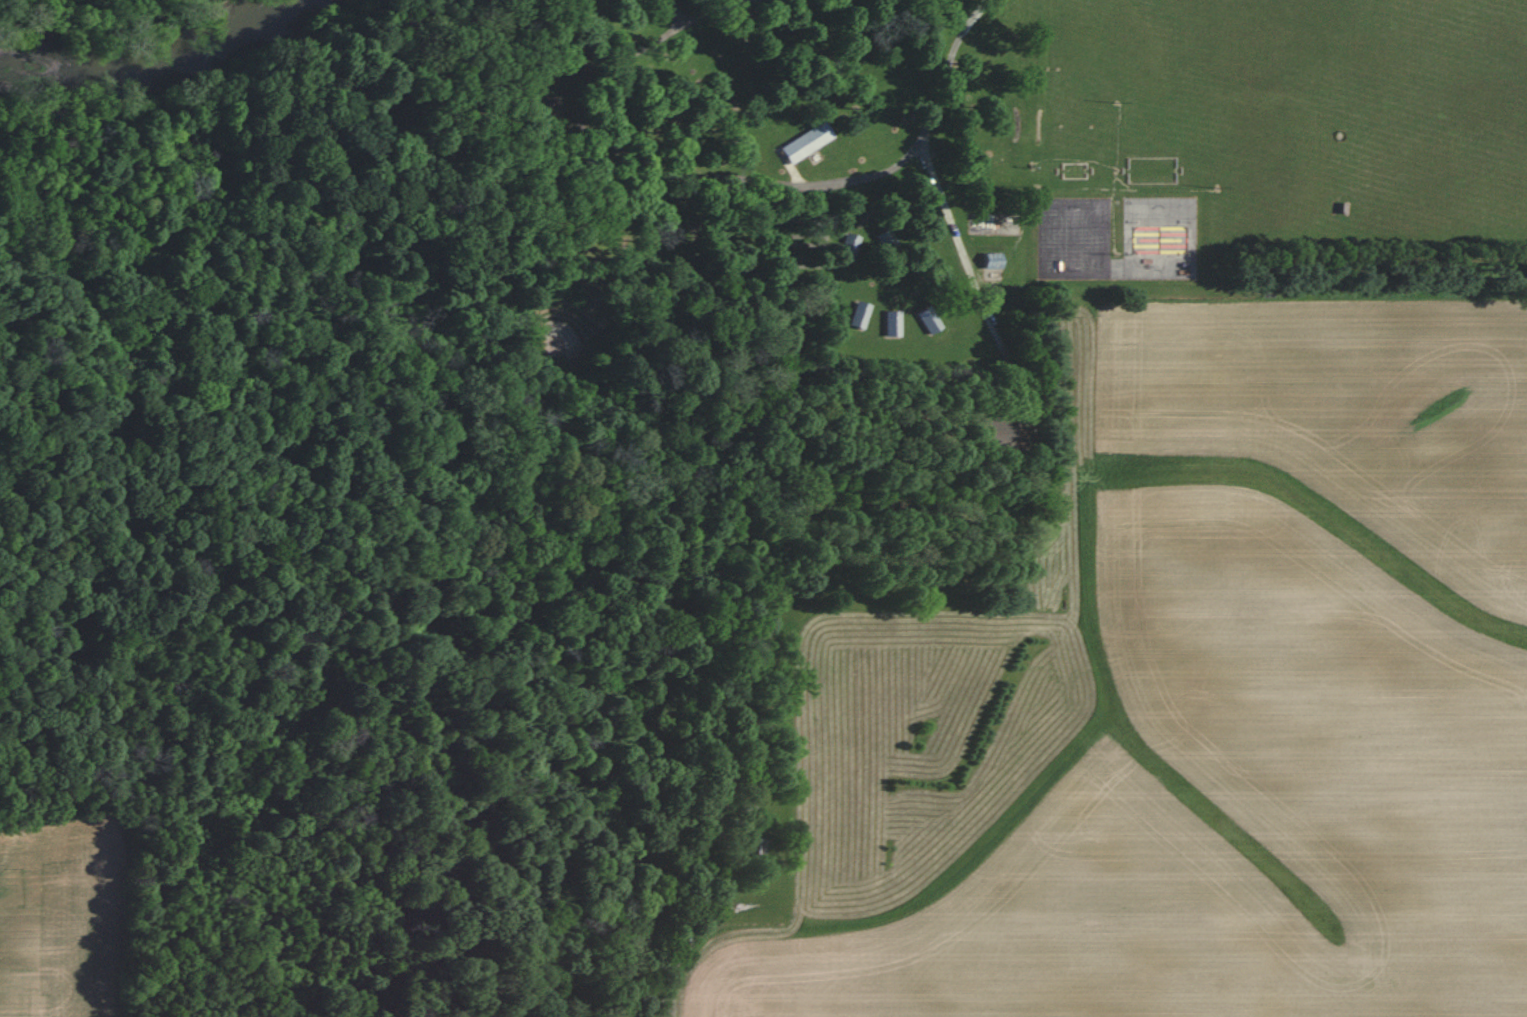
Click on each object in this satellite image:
road: (703, 12)
river: (167, 64)
road: (925, 130)
building: (804, 142)
building: (884, 239)
building: (847, 247)
building: (990, 261)
road: (970, 272)
building: (858, 315)
building: (927, 320)
building: (890, 323)
building: (991, 432)
building: (755, 845)
road: (674, 998)

